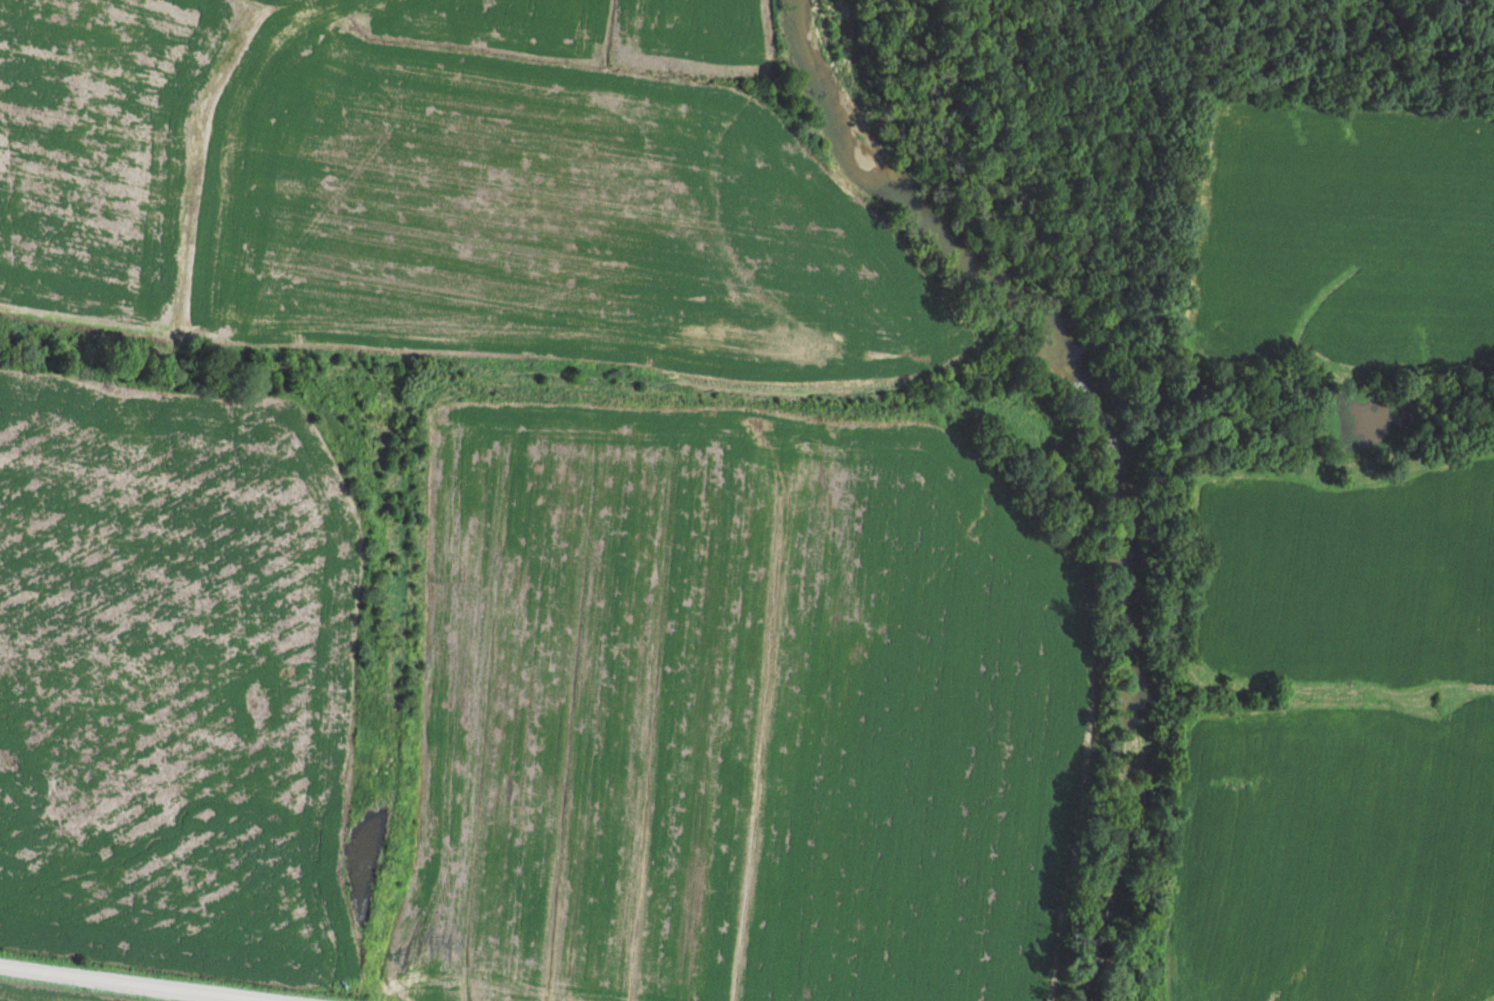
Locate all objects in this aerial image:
road: (0, 1000)

